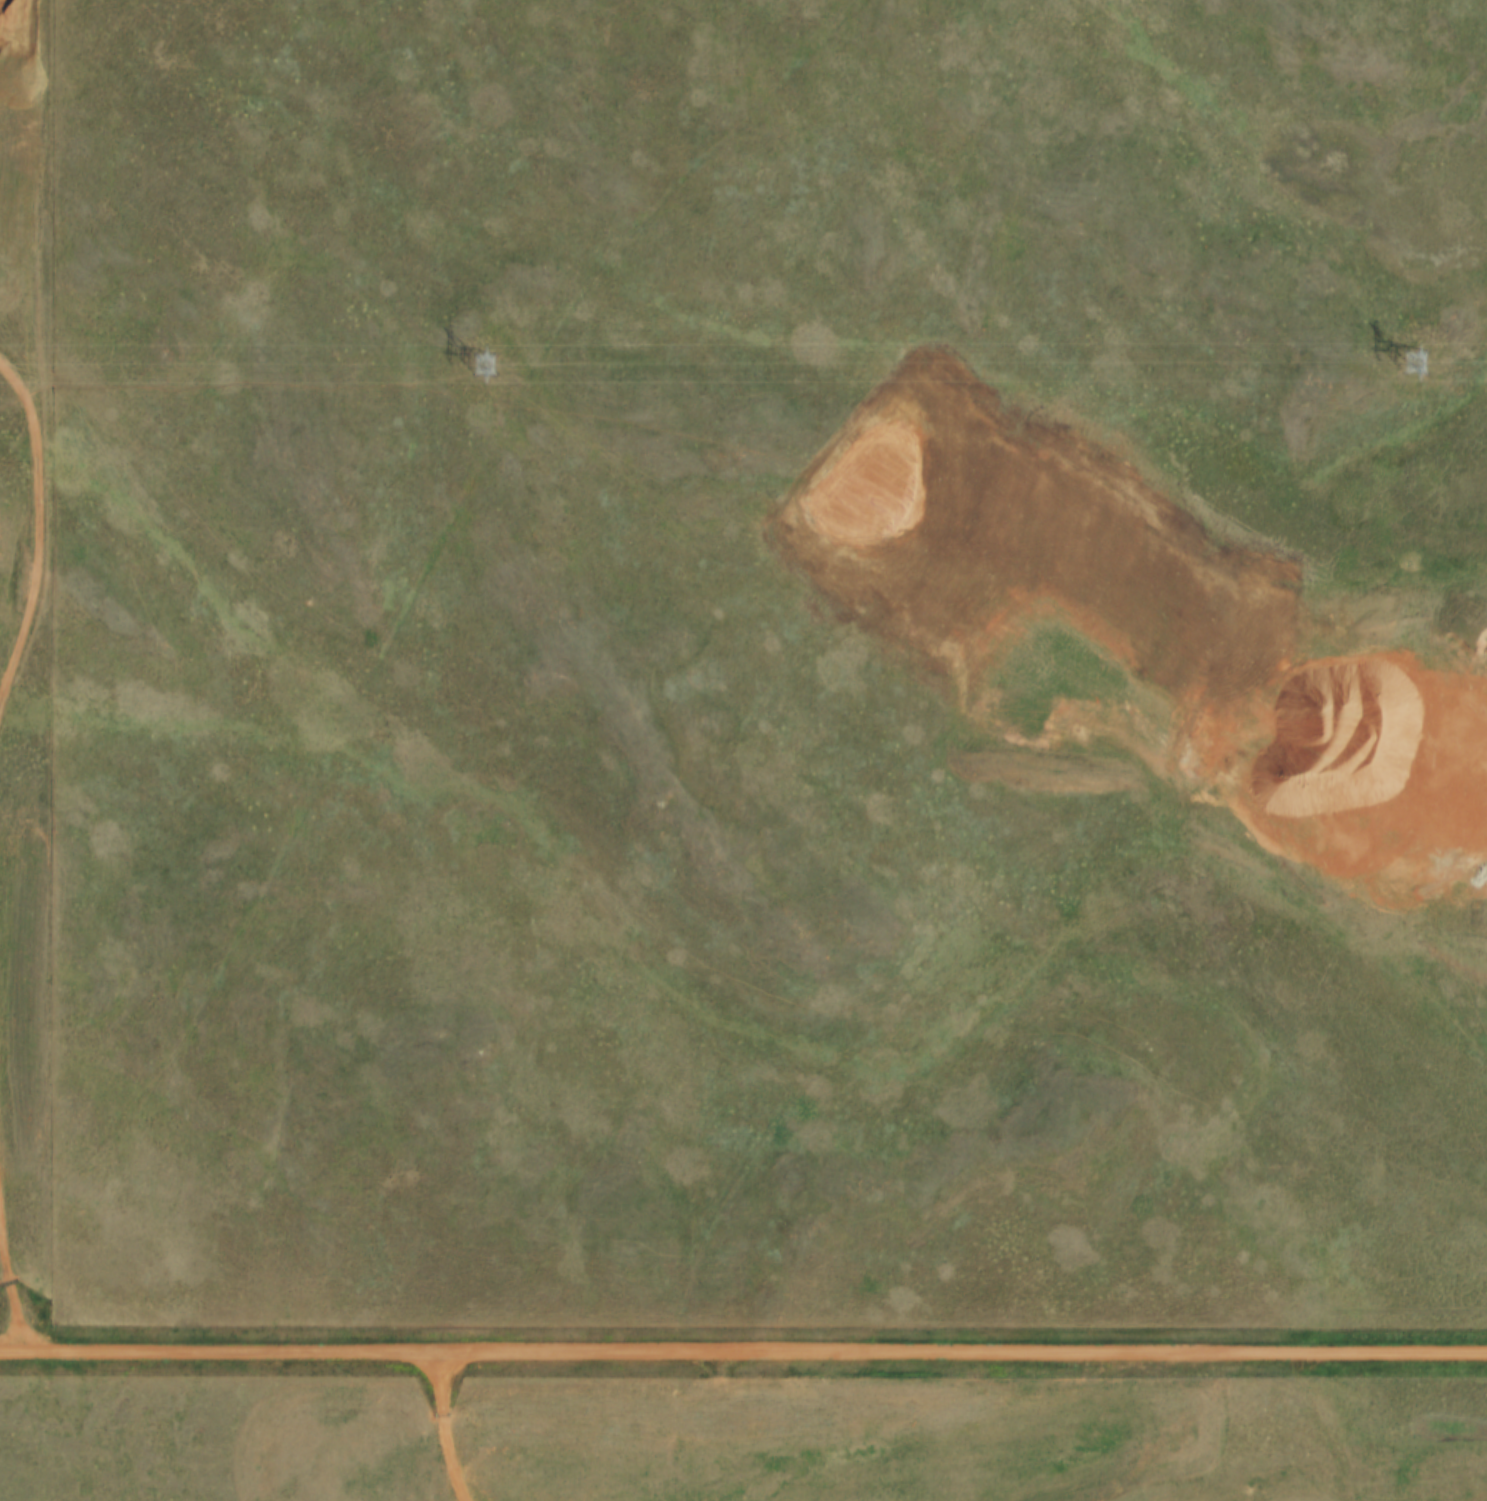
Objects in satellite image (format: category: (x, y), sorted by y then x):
power tower: (1409, 365)
power tower: (481, 366)
quarry: (1212, 687)
road: (743, 1354)
road: (447, 1429)
quarry: (1472, 1496)

